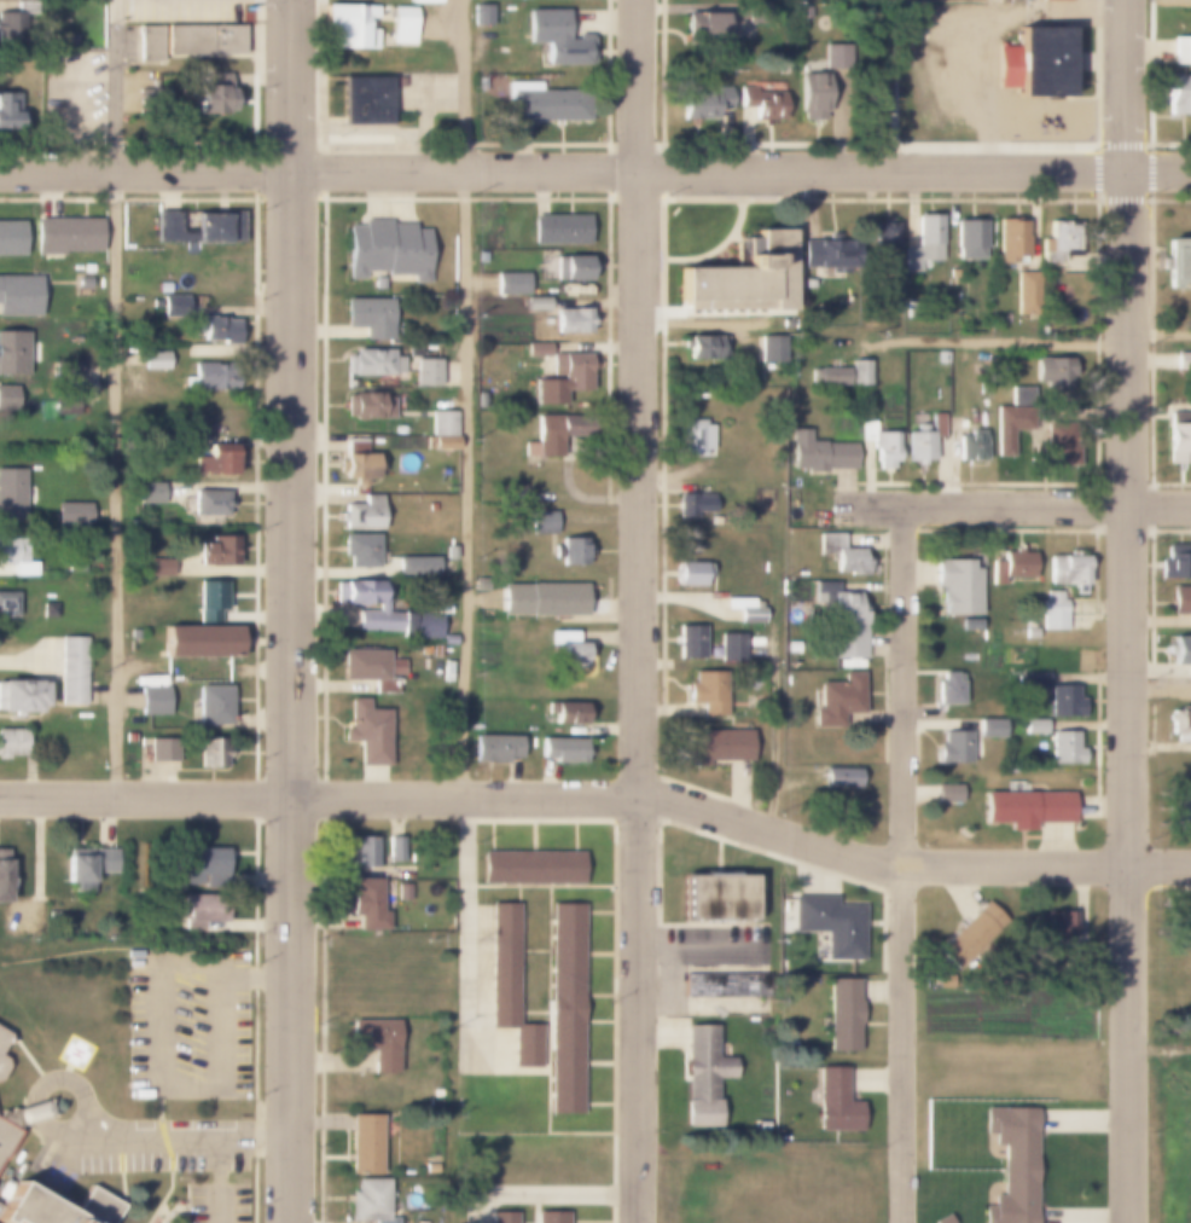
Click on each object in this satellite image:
building: (423, 1)
parking lot: (185, 8)
building: (757, 13)
building: (17, 21)
building: (402, 24)
building: (348, 27)
building: (707, 27)
building: (557, 40)
building: (190, 41)
building: (1181, 51)
building: (832, 54)
building: (1038, 63)
building: (890, 71)
road: (116, 85)
building: (209, 92)
building: (1178, 94)
parking lot: (74, 97)
building: (811, 97)
building: (873, 98)
building: (153, 99)
building: (366, 100)
building: (703, 103)
building: (761, 103)
building: (542, 104)
building: (8, 111)
road: (742, 169)
road: (145, 170)
building: (197, 226)
building: (558, 230)
building: (883, 233)
building: (64, 236)
building: (969, 238)
building: (12, 239)
building: (1010, 240)
building: (923, 243)
building: (1058, 244)
building: (384, 249)
building: (825, 254)
building: (481, 256)
building: (1177, 265)
building: (573, 267)
building: (87, 268)
building: (227, 273)
building: (738, 278)
building: (83, 283)
building: (510, 283)
building: (175, 288)
building: (1026, 291)
building: (18, 296)
building: (536, 303)
building: (173, 306)
building: (368, 317)
building: (571, 321)
building: (216, 329)
road: (1024, 341)
building: (699, 348)
building: (8, 349)
building: (535, 349)
building: (769, 349)
building: (940, 357)
building: (155, 361)
building: (372, 363)
building: (426, 372)
building: (571, 372)
storage tank: (794, 373)
building: (858, 373)
building: (64, 375)
building: (209, 377)
building: (827, 377)
building: (548, 390)
building: (7, 398)
road: (464, 400)
building: (366, 406)
building: (64, 407)
building: (1047, 410)
building: (442, 423)
building: (399, 430)
building: (867, 430)
building: (547, 437)
building: (1177, 437)
building: (692, 439)
building: (925, 439)
building: (969, 446)
building: (884, 450)
building: (819, 453)
building: (214, 460)
building: (355, 463)
road: (116, 483)
building: (149, 493)
building: (11, 495)
building: (209, 503)
building: (692, 506)
road: (1016, 506)
building: (431, 508)
building: (361, 514)
building: (71, 515)
building: (540, 522)
building: (359, 550)
building: (217, 551)
building: (569, 551)
building: (841, 555)
building: (16, 556)
building: (1174, 558)
storage tank: (765, 567)
building: (1010, 567)
building: (157, 568)
building: (412, 568)
building: (1065, 569)
storage tank: (801, 573)
building: (690, 574)
building: (481, 584)
storage tank: (782, 586)
building: (955, 587)
building: (558, 598)
building: (1179, 599)
building: (6, 604)
building: (48, 609)
building: (383, 610)
building: (744, 610)
road: (1128, 610)
road: (291, 611)
road: (639, 611)
building: (1052, 613)
building: (841, 620)
building: (977, 624)
building: (204, 627)
building: (1029, 633)
building: (134, 634)
storage tank: (982, 634)
building: (689, 642)
building: (730, 648)
building: (567, 649)
building: (1180, 651)
building: (371, 667)
building: (71, 671)
building: (1033, 680)
building: (946, 688)
road: (1160, 689)
building: (705, 692)
building: (21, 696)
building: (151, 700)
building: (836, 700)
building: (1062, 701)
building: (211, 706)
building: (564, 712)
road: (775, 718)
building: (1179, 721)
building: (1030, 729)
building: (365, 731)
building: (127, 738)
building: (12, 743)
building: (713, 746)
building: (494, 748)
building: (954, 748)
building: (162, 749)
building: (562, 749)
building: (1062, 749)
building: (202, 753)
building: (838, 777)
building: (946, 794)
road: (145, 798)
building: (1026, 807)
building: (1178, 807)
road: (742, 825)
building: (394, 851)
building: (361, 852)
building: (86, 864)
road: (902, 865)
building: (203, 866)
building: (534, 868)
building: (1, 875)
building: (402, 891)
building: (717, 898)
building: (366, 904)
building: (199, 909)
building: (829, 925)
building: (1056, 928)
building: (1181, 932)
building: (970, 937)
building: (1079, 950)
road: (256, 978)
building: (726, 985)
building: (510, 987)
building: (567, 1010)
building: (841, 1016)
parking lot: (188, 1025)
building: (2, 1041)
building: (374, 1043)
helipad: (72, 1054)
building: (2, 1066)
building: (701, 1074)
road: (53, 1083)
road: (161, 1085)
building: (435, 1094)
building: (435, 1102)
building: (833, 1102)
building: (8, 1132)
road: (181, 1144)
building: (362, 1144)
parking lot: (158, 1152)
building: (1011, 1164)
building: (429, 1167)
road: (219, 1183)
road: (538, 1188)
building: (367, 1201)
parking lot: (217, 1204)
building: (57, 1208)
building: (551, 1217)
building: (502, 1218)
building: (941, 1219)

